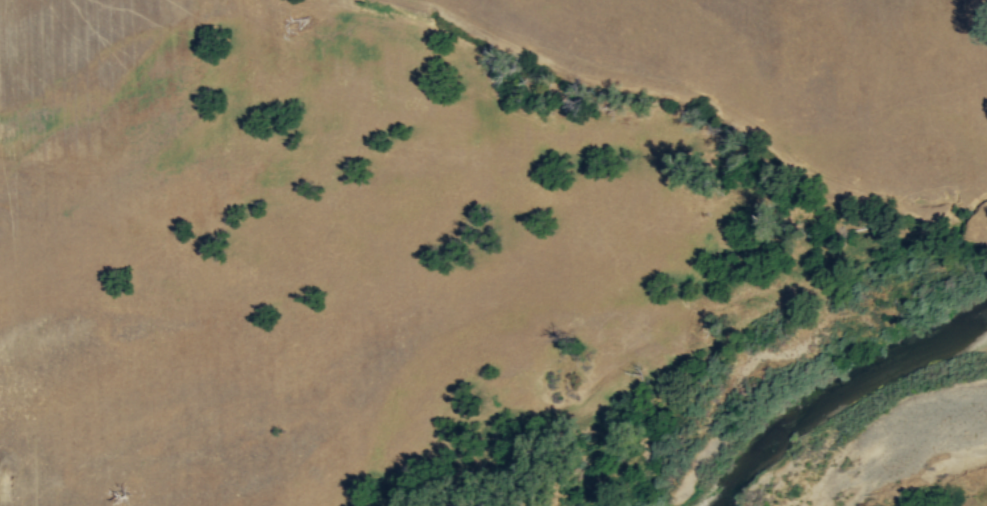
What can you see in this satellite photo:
river: (840, 399)

